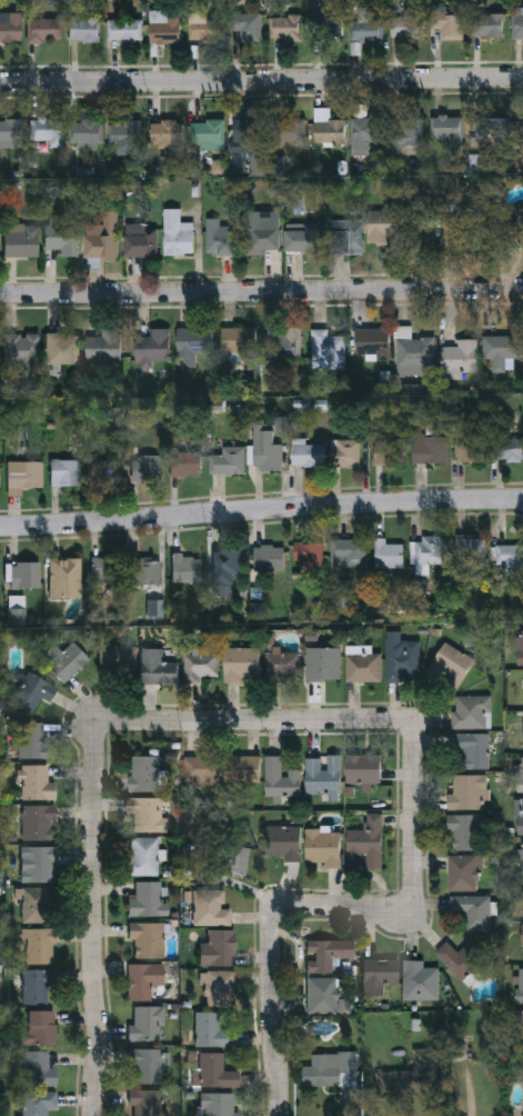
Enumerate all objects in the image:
building: (449, 23)
building: (368, 24)
building: (489, 24)
building: (519, 26)
building: (163, 27)
building: (204, 27)
building: (249, 27)
building: (285, 27)
building: (326, 27)
building: (408, 27)
building: (11, 28)
building: (83, 29)
building: (43, 30)
building: (124, 30)
road: (261, 80)
building: (449, 127)
building: (208, 130)
building: (290, 130)
building: (408, 130)
building: (46, 131)
building: (165, 131)
building: (248, 131)
building: (499, 131)
building: (10, 132)
building: (124, 132)
building: (86, 133)
building: (365, 133)
building: (384, 223)
building: (425, 229)
building: (177, 233)
building: (263, 233)
building: (346, 236)
building: (102, 237)
building: (302, 237)
building: (466, 237)
building: (61, 239)
building: (20, 240)
building: (223, 240)
building: (141, 241)
road: (261, 291)
building: (239, 341)
building: (154, 343)
building: (193, 343)
building: (285, 343)
building: (372, 343)
building: (103, 346)
building: (329, 348)
building: (63, 349)
building: (22, 350)
building: (502, 350)
building: (414, 351)
building: (461, 357)
building: (430, 448)
building: (469, 448)
building: (509, 449)
building: (389, 450)
building: (265, 451)
building: (348, 452)
building: (306, 455)
building: (228, 460)
building: (185, 465)
building: (145, 467)
building: (104, 471)
building: (66, 472)
building: (24, 474)
building: (0, 479)
road: (261, 508)
building: (471, 549)
building: (350, 552)
building: (309, 554)
building: (388, 554)
building: (426, 555)
building: (509, 556)
building: (269, 557)
building: (227, 565)
building: (187, 568)
building: (107, 571)
building: (144, 572)
building: (26, 575)
building: (64, 579)
building: (158, 610)
building: (520, 646)
building: (402, 659)
building: (117, 660)
building: (63, 661)
building: (323, 662)
building: (240, 664)
building: (281, 665)
building: (201, 666)
building: (447, 666)
building: (362, 667)
building: (157, 668)
building: (30, 694)
building: (471, 711)
road: (257, 720)
building: (32, 740)
building: (472, 750)
building: (362, 768)
building: (241, 769)
building: (200, 770)
building: (142, 774)
building: (520, 774)
building: (322, 776)
building: (279, 779)
building: (37, 784)
building: (466, 793)
building: (148, 815)
building: (521, 816)
building: (37, 823)
building: (464, 833)
building: (364, 841)
building: (282, 843)
building: (322, 847)
building: (143, 857)
building: (522, 858)
building: (239, 863)
building: (220, 864)
building: (39, 866)
building: (463, 874)
building: (147, 900)
road: (324, 904)
building: (37, 905)
building: (210, 908)
building: (472, 910)
road: (97, 919)
building: (521, 935)
building: (147, 939)
building: (38, 947)
building: (218, 949)
building: (328, 954)
building: (461, 957)
building: (380, 971)
building: (419, 979)
building: (143, 980)
building: (520, 985)
building: (37, 986)
building: (220, 989)
building: (321, 995)
building: (148, 1024)
building: (519, 1027)
building: (39, 1029)
building: (210, 1030)
building: (144, 1066)
building: (330, 1069)
building: (38, 1070)
building: (213, 1072)
building: (410, 1076)
building: (39, 1103)
building: (144, 1103)
building: (218, 1105)
road: (346, 1105)

